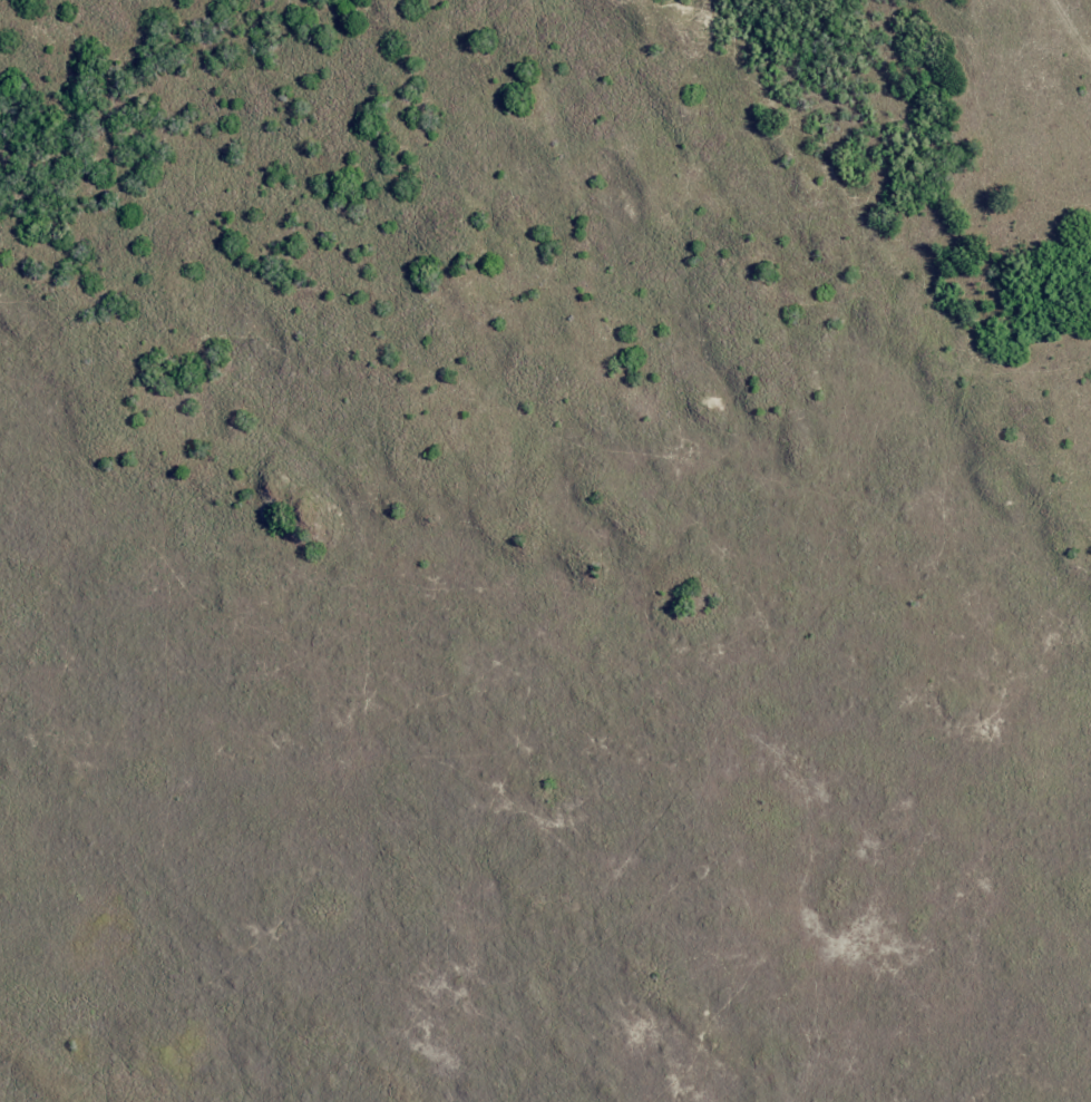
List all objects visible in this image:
road: (1019, 51)

